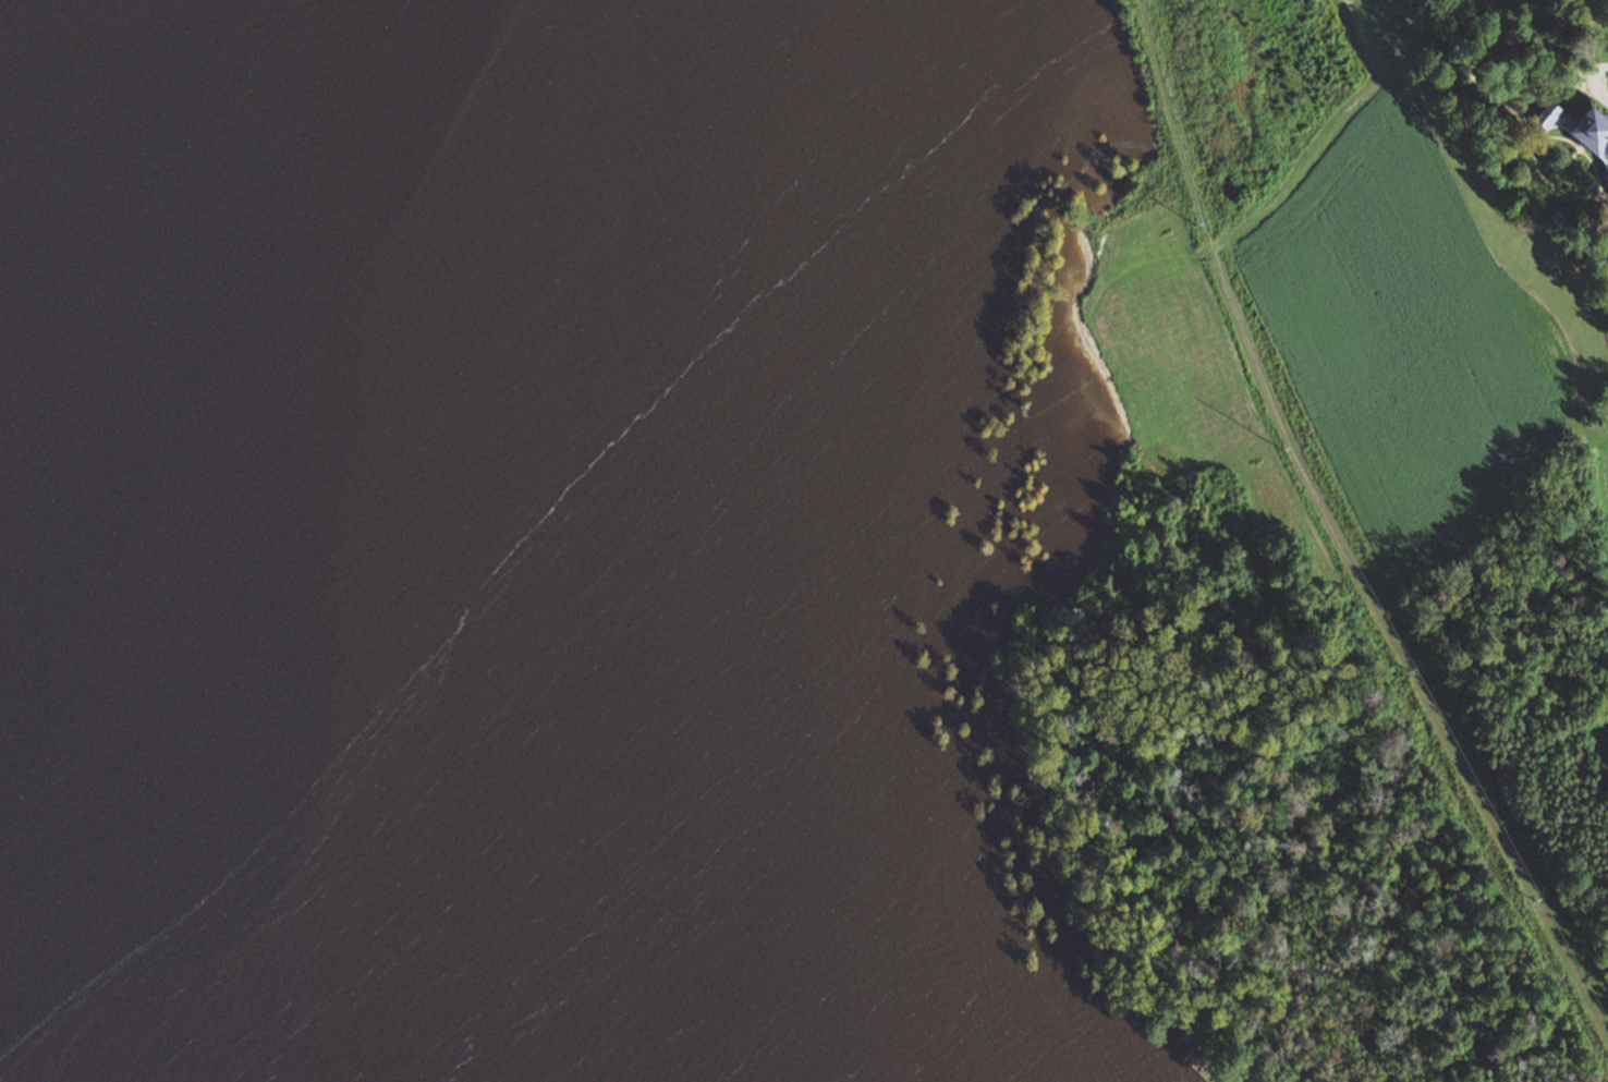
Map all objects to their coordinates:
road: (1595, 82)
building: (1584, 129)

